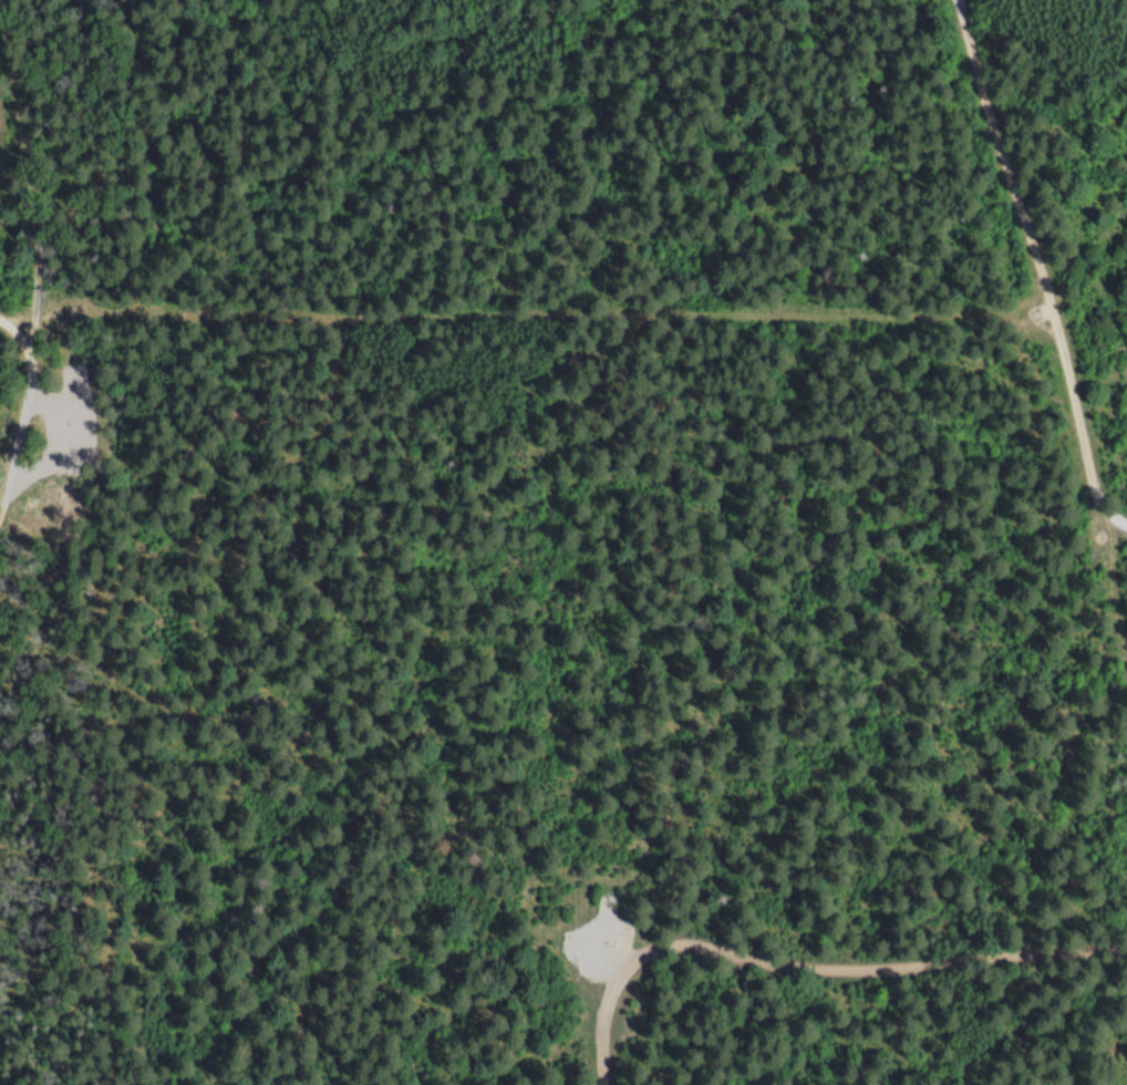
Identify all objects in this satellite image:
road: (8, 249)
road: (1028, 266)
road: (526, 316)
road: (813, 974)

